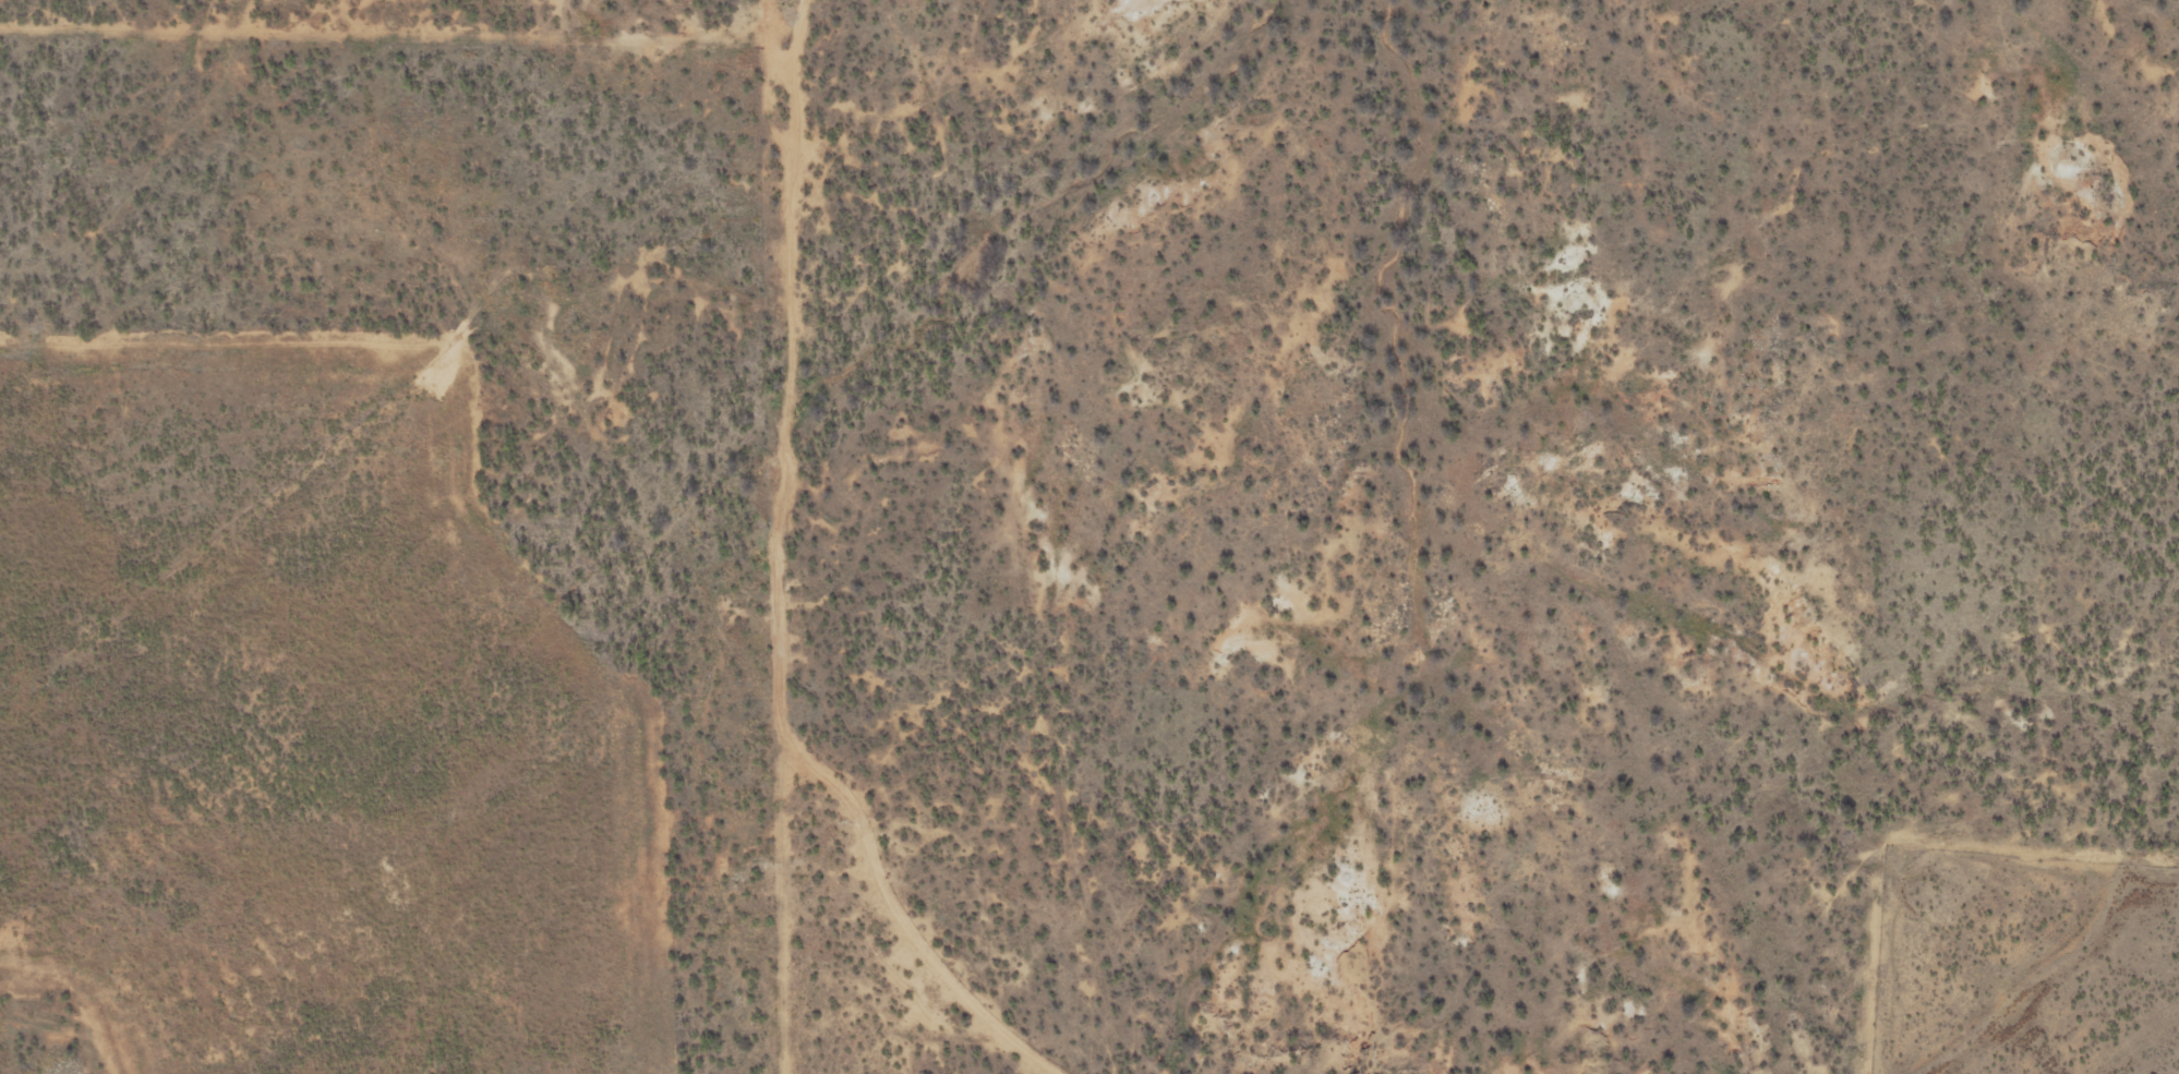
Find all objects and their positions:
road: (371, 162)
road: (745, 738)

